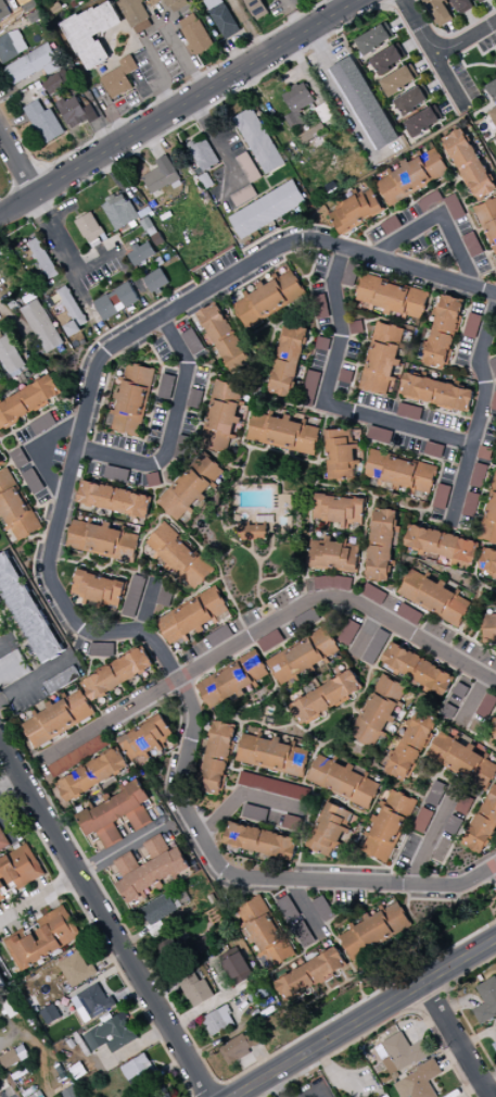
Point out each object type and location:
building: (480, 0)
road: (344, 3)
building: (175, 5)
building: (462, 5)
building: (255, 8)
building: (3, 12)
building: (440, 12)
building: (135, 15)
building: (221, 17)
building: (91, 33)
building: (195, 34)
building: (374, 39)
road: (467, 39)
building: (11, 46)
road: (435, 53)
road: (183, 57)
building: (389, 60)
building: (31, 65)
road: (163, 75)
building: (119, 78)
building: (398, 80)
building: (58, 82)
road: (336, 91)
road: (196, 96)
building: (411, 101)
building: (365, 103)
building: (296, 104)
building: (495, 107)
building: (75, 112)
building: (423, 121)
building: (43, 122)
building: (258, 141)
building: (203, 153)
road: (18, 162)
building: (469, 164)
building: (161, 176)
building: (412, 177)
building: (430, 201)
road: (18, 203)
building: (454, 207)
building: (267, 210)
building: (119, 211)
building: (355, 211)
road: (441, 219)
building: (89, 228)
road: (59, 232)
building: (472, 245)
building: (141, 253)
building: (42, 259)
building: (349, 274)
building: (155, 281)
building: (392, 297)
building: (269, 299)
building: (116, 301)
building: (320, 307)
building: (73, 315)
building: (41, 326)
building: (472, 326)
building: (443, 333)
building: (225, 338)
building: (192, 341)
building: (10, 358)
building: (382, 358)
building: (288, 361)
building: (166, 386)
building: (309, 388)
building: (435, 392)
building: (194, 398)
building: (131, 400)
building: (28, 401)
road: (330, 401)
building: (493, 401)
building: (221, 417)
road: (479, 421)
building: (42, 424)
road: (174, 429)
building: (282, 434)
building: (379, 435)
road: (38, 449)
building: (342, 456)
building: (1, 462)
building: (400, 472)
building: (478, 476)
building: (190, 488)
building: (441, 497)
building: (114, 499)
building: (470, 503)
building: (15, 508)
building: (339, 511)
building: (253, 533)
building: (102, 541)
building: (382, 545)
building: (442, 545)
building: (179, 556)
building: (332, 556)
building: (488, 562)
road: (56, 581)
building: (332, 583)
building: (150, 585)
building: (98, 589)
building: (373, 594)
building: (133, 597)
building: (433, 597)
building: (26, 611)
building: (408, 614)
building: (192, 618)
road: (264, 628)
building: (488, 628)
building: (348, 633)
building: (269, 640)
building: (376, 647)
building: (101, 649)
building: (303, 658)
building: (12, 669)
building: (417, 670)
building: (117, 674)
building: (231, 681)
building: (459, 691)
building: (326, 698)
building: (486, 706)
building: (378, 711)
building: (58, 719)
building: (145, 738)
building: (410, 747)
building: (271, 755)
building: (77, 756)
building: (217, 758)
building: (461, 760)
building: (91, 775)
building: (342, 782)
building: (272, 786)
building: (435, 794)
road: (244, 795)
building: (463, 805)
building: (255, 813)
building: (115, 814)
building: (422, 821)
building: (291, 824)
building: (386, 826)
building: (329, 831)
road: (431, 839)
building: (446, 839)
building: (2, 842)
building: (260, 842)
road: (122, 849)
building: (18, 869)
building: (150, 870)
building: (288, 908)
building: (322, 909)
building: (158, 913)
road: (105, 917)
building: (376, 930)
building: (265, 933)
building: (302, 935)
building: (41, 939)
building: (201, 946)
road: (459, 960)
building: (238, 969)
building: (76, 970)
building: (310, 975)
building: (194, 989)
building: (9, 1002)
building: (485, 1002)
building: (91, 1003)
building: (50, 1014)
building: (218, 1021)
building: (111, 1034)
road: (328, 1039)
road: (457, 1039)
building: (495, 1043)
building: (239, 1047)
building: (402, 1054)
building: (10, 1059)
building: (138, 1070)
building: (418, 1082)
road: (277, 1086)
road: (314, 1089)
building: (154, 1090)
building: (69, 1093)
building: (383, 1096)

